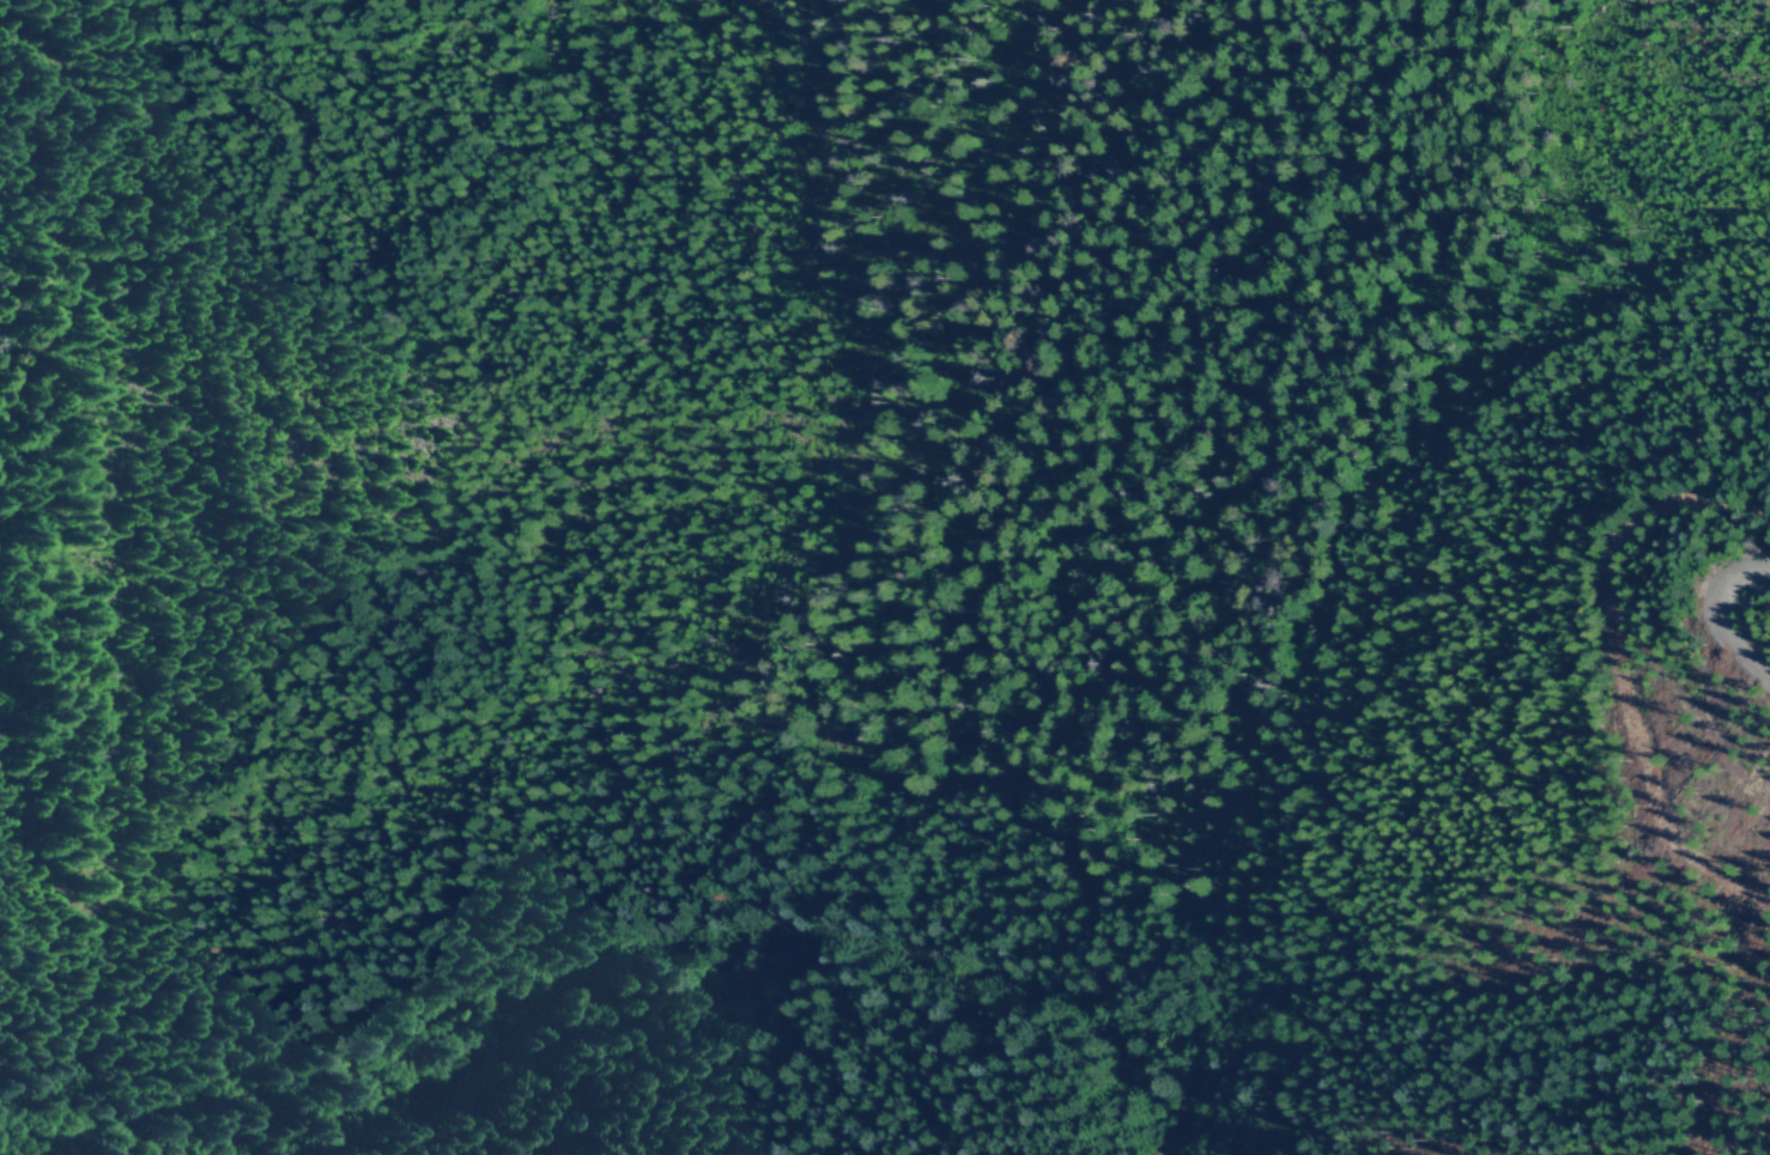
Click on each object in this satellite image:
road: (1722, 613)

